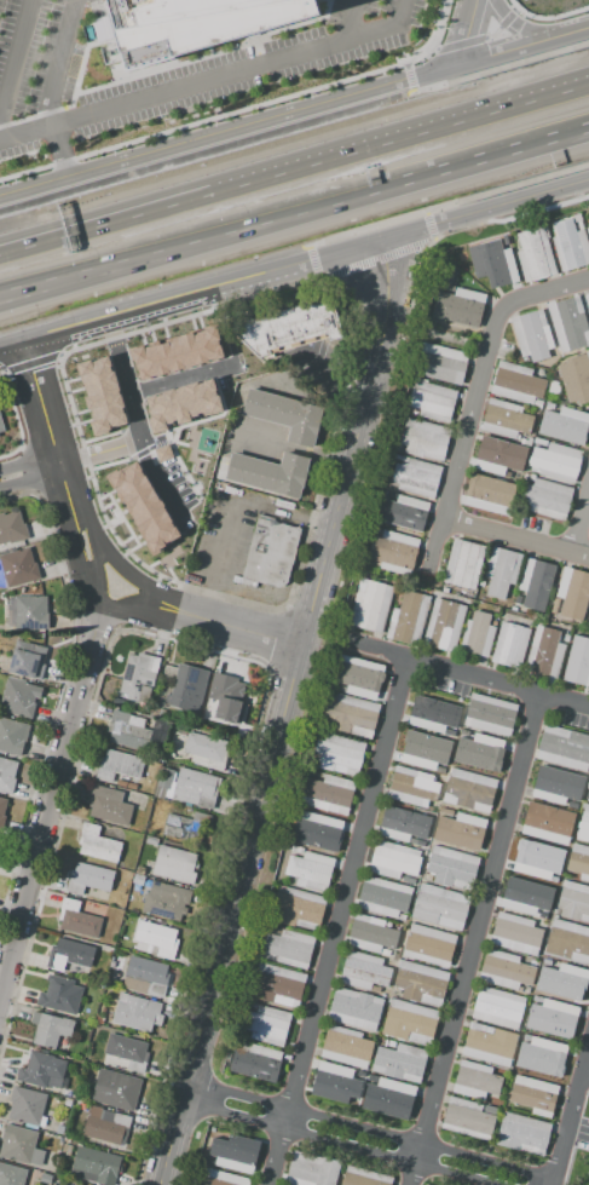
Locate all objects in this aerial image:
road: (552, 16)
road: (351, 19)
road: (472, 19)
building: (192, 27)
road: (480, 38)
road: (435, 40)
road: (474, 51)
road: (13, 52)
road: (500, 53)
road: (501, 65)
road: (409, 76)
road: (212, 77)
road: (52, 90)
road: (204, 139)
road: (206, 150)
road: (364, 150)
road: (481, 160)
road: (480, 194)
building: (579, 224)
road: (70, 229)
building: (588, 231)
road: (70, 235)
road: (347, 235)
building: (506, 240)
building: (570, 245)
road: (187, 246)
building: (535, 254)
road: (374, 259)
road: (294, 261)
building: (492, 263)
road: (80, 280)
building: (447, 288)
building: (587, 299)
building: (458, 306)
building: (570, 323)
building: (289, 328)
road: (127, 330)
building: (531, 335)
building: (225, 349)
road: (191, 353)
road: (122, 358)
building: (443, 364)
building: (177, 373)
building: (576, 378)
building: (516, 384)
road: (479, 396)
building: (432, 401)
building: (285, 415)
building: (506, 419)
building: (566, 426)
building: (1, 428)
building: (145, 430)
building: (425, 438)
building: (539, 441)
building: (522, 442)
building: (500, 456)
road: (191, 460)
building: (556, 461)
road: (30, 472)
building: (268, 473)
building: (416, 477)
building: (525, 477)
building: (530, 478)
road: (110, 482)
building: (487, 494)
building: (392, 496)
building: (544, 497)
building: (403, 512)
building: (510, 513)
road: (230, 514)
road: (581, 520)
building: (12, 528)
parking lot: (219, 533)
road: (518, 539)
building: (270, 552)
building: (393, 552)
road: (93, 557)
building: (237, 559)
building: (462, 564)
building: (18, 568)
building: (501, 571)
building: (536, 583)
building: (572, 592)
building: (518, 599)
building: (370, 605)
building: (30, 612)
building: (409, 617)
building: (588, 622)
building: (444, 625)
building: (477, 634)
building: (565, 637)
building: (509, 644)
building: (543, 654)
building: (28, 660)
building: (577, 662)
building: (0, 666)
road: (469, 673)
building: (138, 674)
building: (359, 677)
building: (337, 688)
building: (187, 689)
building: (227, 697)
building: (19, 698)
road: (281, 709)
building: (350, 714)
building: (433, 715)
building: (490, 715)
building: (127, 730)
building: (12, 736)
building: (564, 748)
building: (206, 749)
building: (422, 750)
building: (480, 753)
building: (337, 754)
building: (117, 765)
building: (7, 775)
road: (52, 782)
building: (121, 783)
building: (556, 786)
building: (131, 787)
building: (195, 787)
building: (411, 787)
building: (158, 790)
building: (168, 790)
building: (469, 790)
building: (328, 794)
building: (588, 794)
building: (109, 805)
building: (572, 805)
building: (1, 809)
building: (445, 812)
building: (548, 823)
building: (403, 824)
building: (583, 826)
building: (185, 827)
building: (317, 830)
building: (460, 832)
building: (151, 840)
building: (414, 841)
building: (98, 844)
building: (393, 859)
building: (533, 861)
building: (578, 861)
building: (174, 864)
building: (451, 865)
building: (139, 869)
building: (308, 872)
building: (87, 878)
building: (137, 879)
building: (383, 897)
building: (525, 897)
building: (573, 901)
building: (164, 902)
building: (296, 907)
building: (440, 907)
building: (77, 920)
road: (336, 920)
building: (371, 933)
building: (515, 933)
road: (473, 937)
building: (155, 939)
building: (568, 940)
building: (428, 944)
building: (288, 949)
building: (385, 951)
building: (68, 954)
building: (504, 970)
building: (364, 971)
building: (145, 977)
building: (561, 980)
building: (420, 982)
building: (277, 984)
building: (89, 988)
building: (375, 989)
building: (525, 989)
building: (56, 994)
building: (497, 1007)
building: (356, 1008)
building: (135, 1012)
building: (554, 1019)
building: (99, 1020)
building: (409, 1022)
building: (266, 1024)
building: (50, 1029)
building: (391, 1045)
building: (490, 1045)
building: (346, 1046)
building: (126, 1048)
building: (544, 1058)
building: (255, 1062)
building: (400, 1062)
building: (134, 1065)
building: (42, 1070)
road: (584, 1071)
building: (475, 1081)
building: (337, 1083)
building: (116, 1091)
building: (68, 1094)
building: (533, 1095)
building: (387, 1098)
building: (27, 1106)
building: (490, 1109)
road: (570, 1109)
building: (467, 1117)
building: (106, 1126)
building: (213, 1129)
road: (371, 1129)
building: (522, 1133)
road: (341, 1143)
building: (19, 1146)
building: (232, 1152)
building: (94, 1166)
building: (311, 1169)
building: (11, 1175)
building: (45, 1178)
building: (364, 1178)
building: (220, 1179)
building: (71, 1184)

